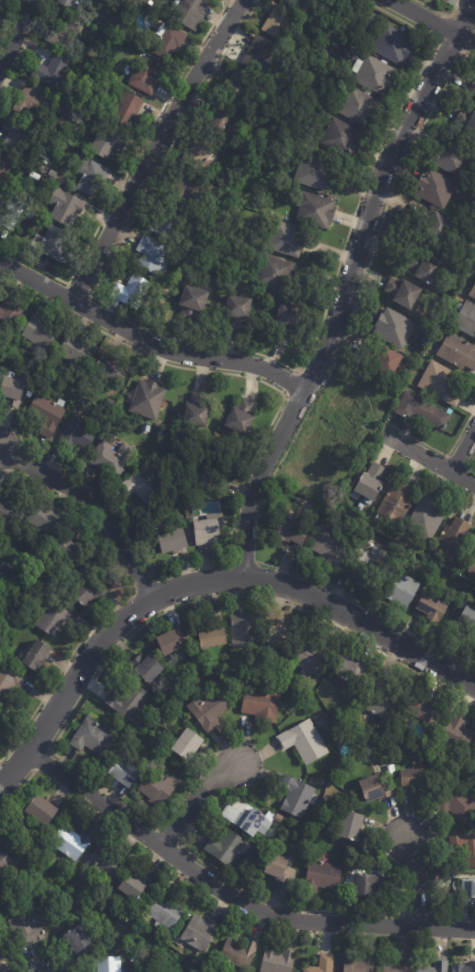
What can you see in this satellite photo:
building: (72, 1)
building: (305, 4)
building: (188, 12)
road: (440, 13)
road: (464, 17)
road: (7, 19)
building: (278, 22)
road: (431, 22)
road: (15, 34)
building: (62, 38)
road: (434, 39)
building: (168, 42)
building: (393, 45)
road: (23, 48)
building: (322, 50)
building: (258, 56)
building: (307, 66)
building: (313, 70)
building: (51, 71)
building: (373, 74)
building: (144, 76)
building: (323, 82)
building: (239, 85)
building: (41, 89)
building: (273, 89)
building: (472, 89)
building: (70, 96)
building: (31, 105)
building: (358, 107)
building: (128, 109)
building: (55, 113)
building: (66, 113)
building: (222, 122)
building: (466, 123)
building: (17, 132)
building: (60, 134)
building: (341, 138)
building: (107, 142)
building: (244, 147)
road: (153, 148)
building: (200, 154)
building: (451, 156)
building: (4, 167)
building: (313, 172)
road: (126, 173)
building: (31, 176)
building: (92, 176)
building: (184, 186)
building: (435, 188)
building: (63, 206)
building: (0, 207)
building: (315, 210)
building: (166, 224)
building: (433, 224)
building: (286, 238)
building: (51, 243)
building: (153, 256)
road: (370, 258)
building: (187, 260)
building: (425, 269)
building: (275, 273)
building: (130, 292)
building: (403, 293)
building: (473, 293)
road: (90, 295)
building: (193, 302)
road: (343, 306)
building: (237, 312)
building: (10, 314)
building: (289, 317)
building: (466, 319)
building: (394, 328)
building: (38, 333)
road: (146, 342)
building: (424, 342)
road: (240, 350)
building: (72, 352)
building: (458, 352)
building: (416, 357)
building: (381, 362)
building: (412, 366)
building: (107, 369)
road: (290, 380)
building: (440, 384)
building: (11, 391)
building: (28, 394)
building: (147, 399)
building: (196, 411)
building: (422, 411)
building: (46, 415)
building: (240, 418)
building: (145, 429)
building: (80, 433)
building: (159, 443)
road: (463, 450)
road: (439, 452)
building: (112, 458)
road: (428, 458)
road: (455, 462)
road: (471, 470)
road: (245, 472)
building: (174, 481)
building: (208, 483)
building: (370, 485)
building: (140, 487)
building: (178, 502)
building: (397, 502)
road: (94, 505)
building: (7, 514)
building: (425, 519)
building: (41, 520)
building: (205, 532)
building: (291, 534)
building: (171, 541)
building: (452, 541)
building: (65, 544)
building: (330, 547)
building: (0, 561)
road: (242, 562)
building: (364, 564)
building: (472, 567)
road: (204, 581)
road: (145, 583)
building: (400, 590)
building: (87, 594)
road: (175, 607)
road: (368, 607)
building: (431, 609)
building: (54, 618)
building: (465, 623)
building: (245, 630)
building: (212, 633)
building: (279, 633)
building: (172, 643)
building: (34, 658)
building: (313, 658)
building: (147, 666)
road: (61, 668)
building: (350, 668)
building: (277, 675)
building: (227, 680)
building: (9, 682)
building: (285, 697)
building: (125, 701)
building: (381, 703)
building: (261, 704)
building: (420, 706)
building: (208, 710)
building: (1, 717)
building: (458, 733)
building: (90, 736)
building: (303, 741)
building: (187, 743)
road: (31, 769)
building: (125, 771)
building: (413, 780)
building: (157, 788)
building: (375, 788)
road: (17, 789)
building: (296, 795)
road: (193, 799)
building: (457, 802)
building: (353, 804)
building: (40, 809)
building: (245, 817)
building: (278, 817)
building: (350, 826)
building: (291, 833)
road: (169, 836)
building: (303, 840)
building: (71, 841)
building: (226, 845)
building: (465, 848)
building: (4, 861)
building: (103, 863)
building: (280, 868)
building: (322, 876)
road: (414, 880)
building: (133, 885)
building: (366, 885)
road: (428, 889)
building: (0, 890)
building: (468, 890)
road: (253, 894)
road: (230, 896)
building: (0, 902)
building: (165, 908)
road: (414, 915)
building: (25, 928)
building: (200, 932)
building: (78, 939)
building: (239, 953)
building: (1, 958)
building: (277, 961)
building: (135, 962)
building: (359, 963)
building: (109, 964)
building: (322, 964)
building: (397, 965)
building: (435, 967)
building: (462, 967)
building: (2, 970)

